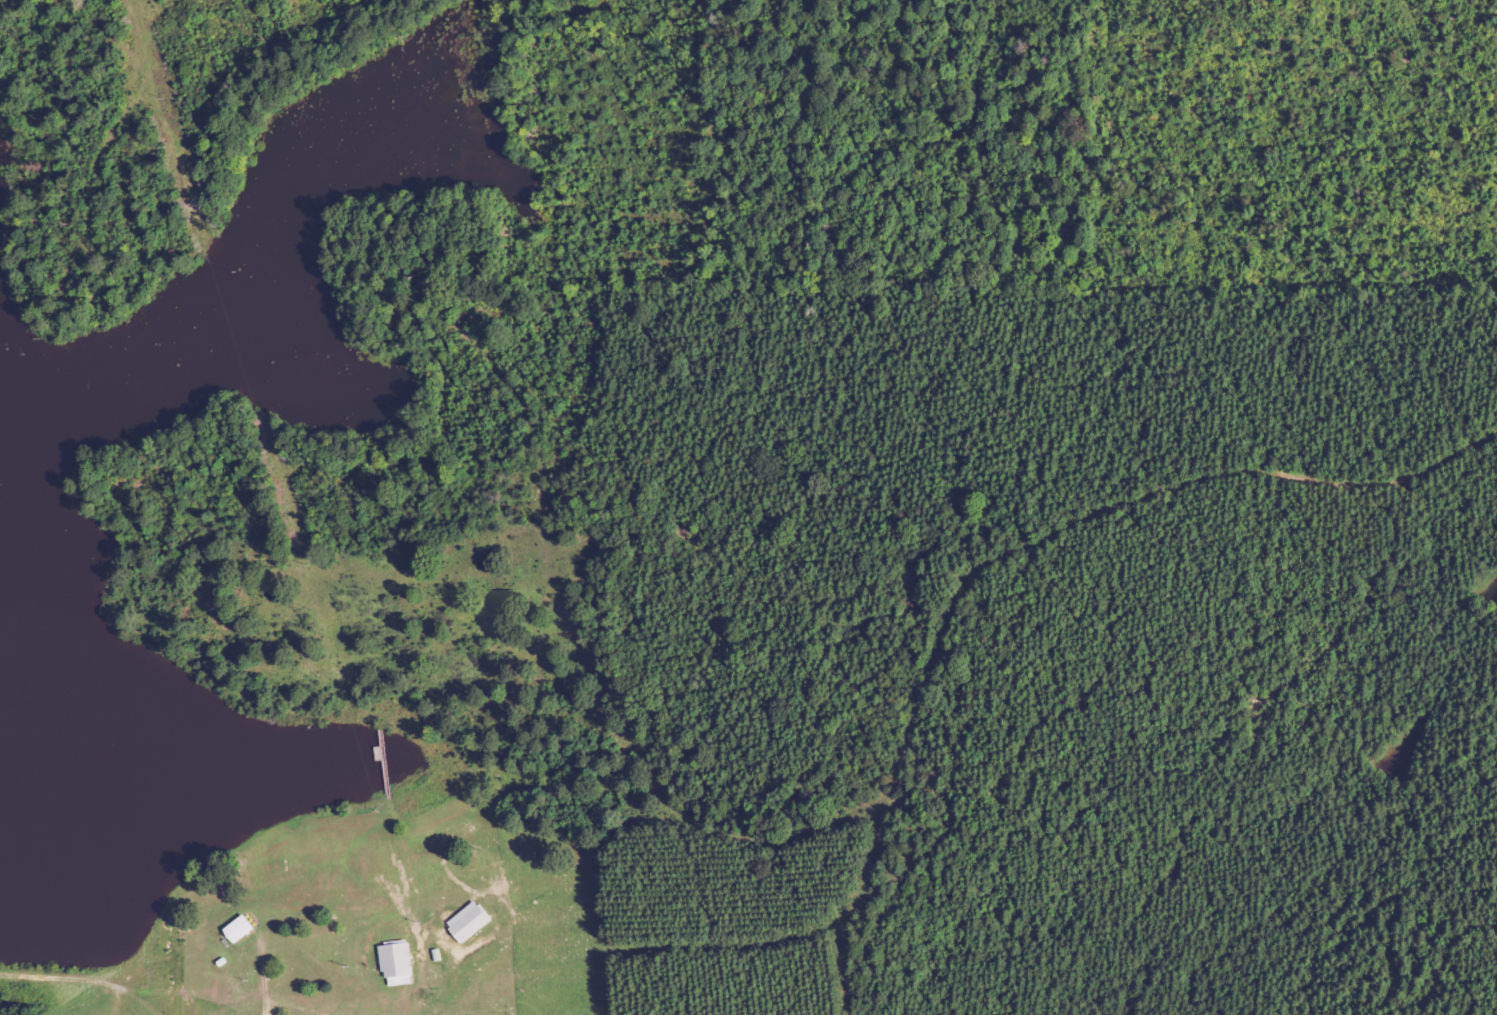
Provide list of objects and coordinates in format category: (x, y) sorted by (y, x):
road: (82, 979)
road: (283, 1004)
road: (267, 1008)

